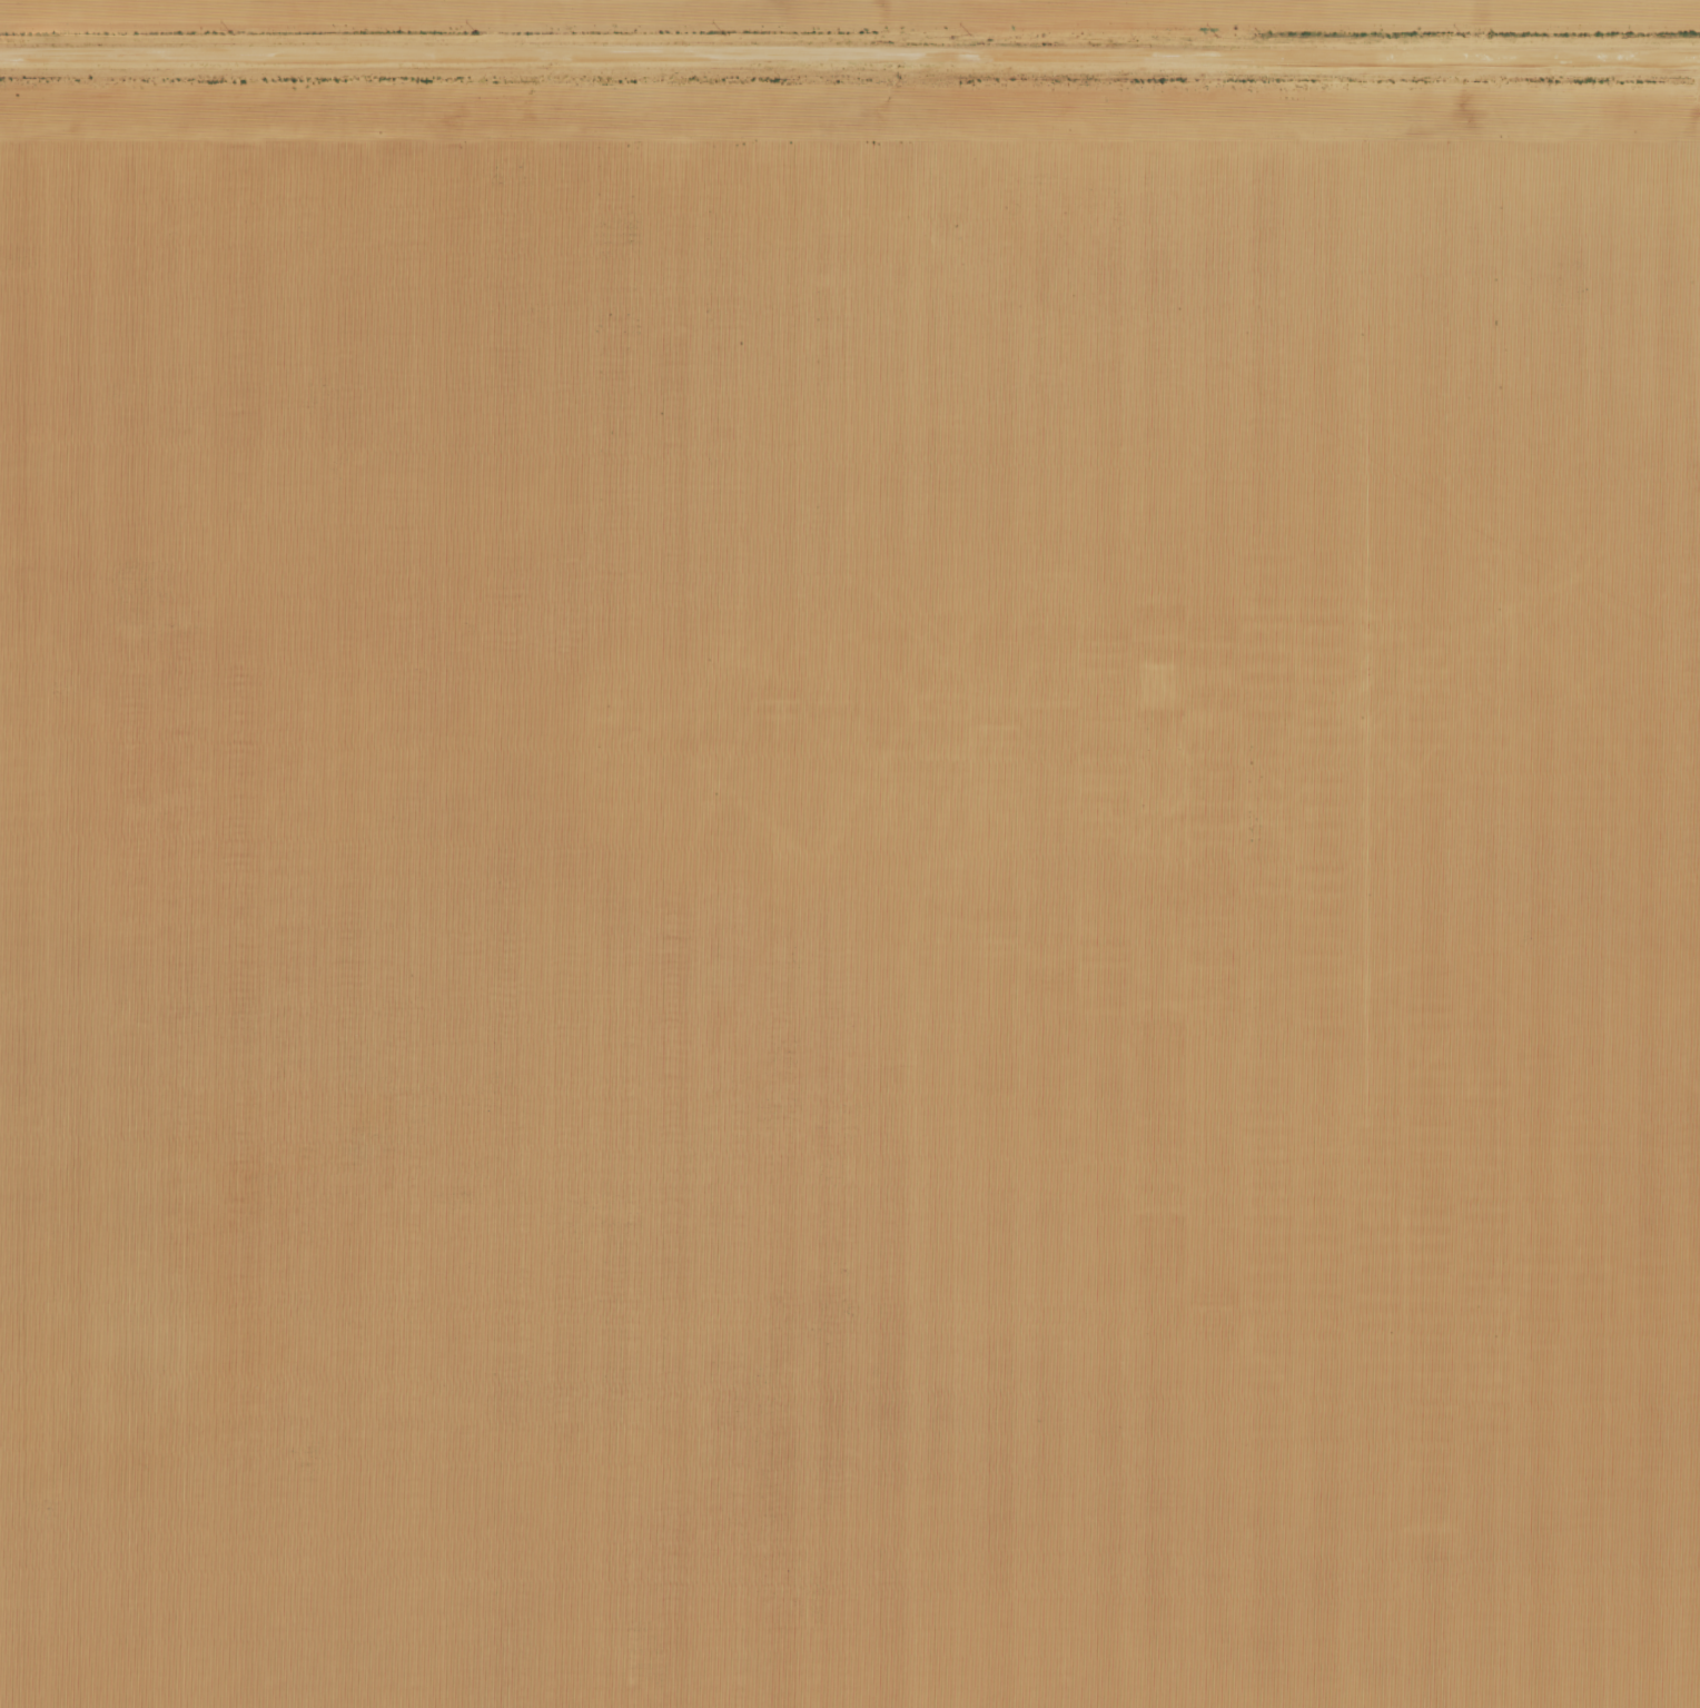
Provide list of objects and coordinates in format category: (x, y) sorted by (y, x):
road: (850, 27)

